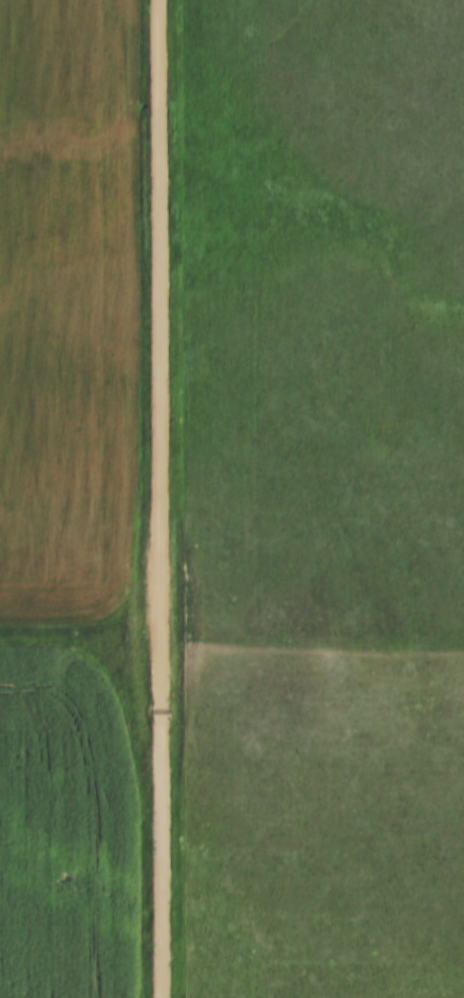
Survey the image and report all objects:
road: (156, 499)
road: (78, 624)

